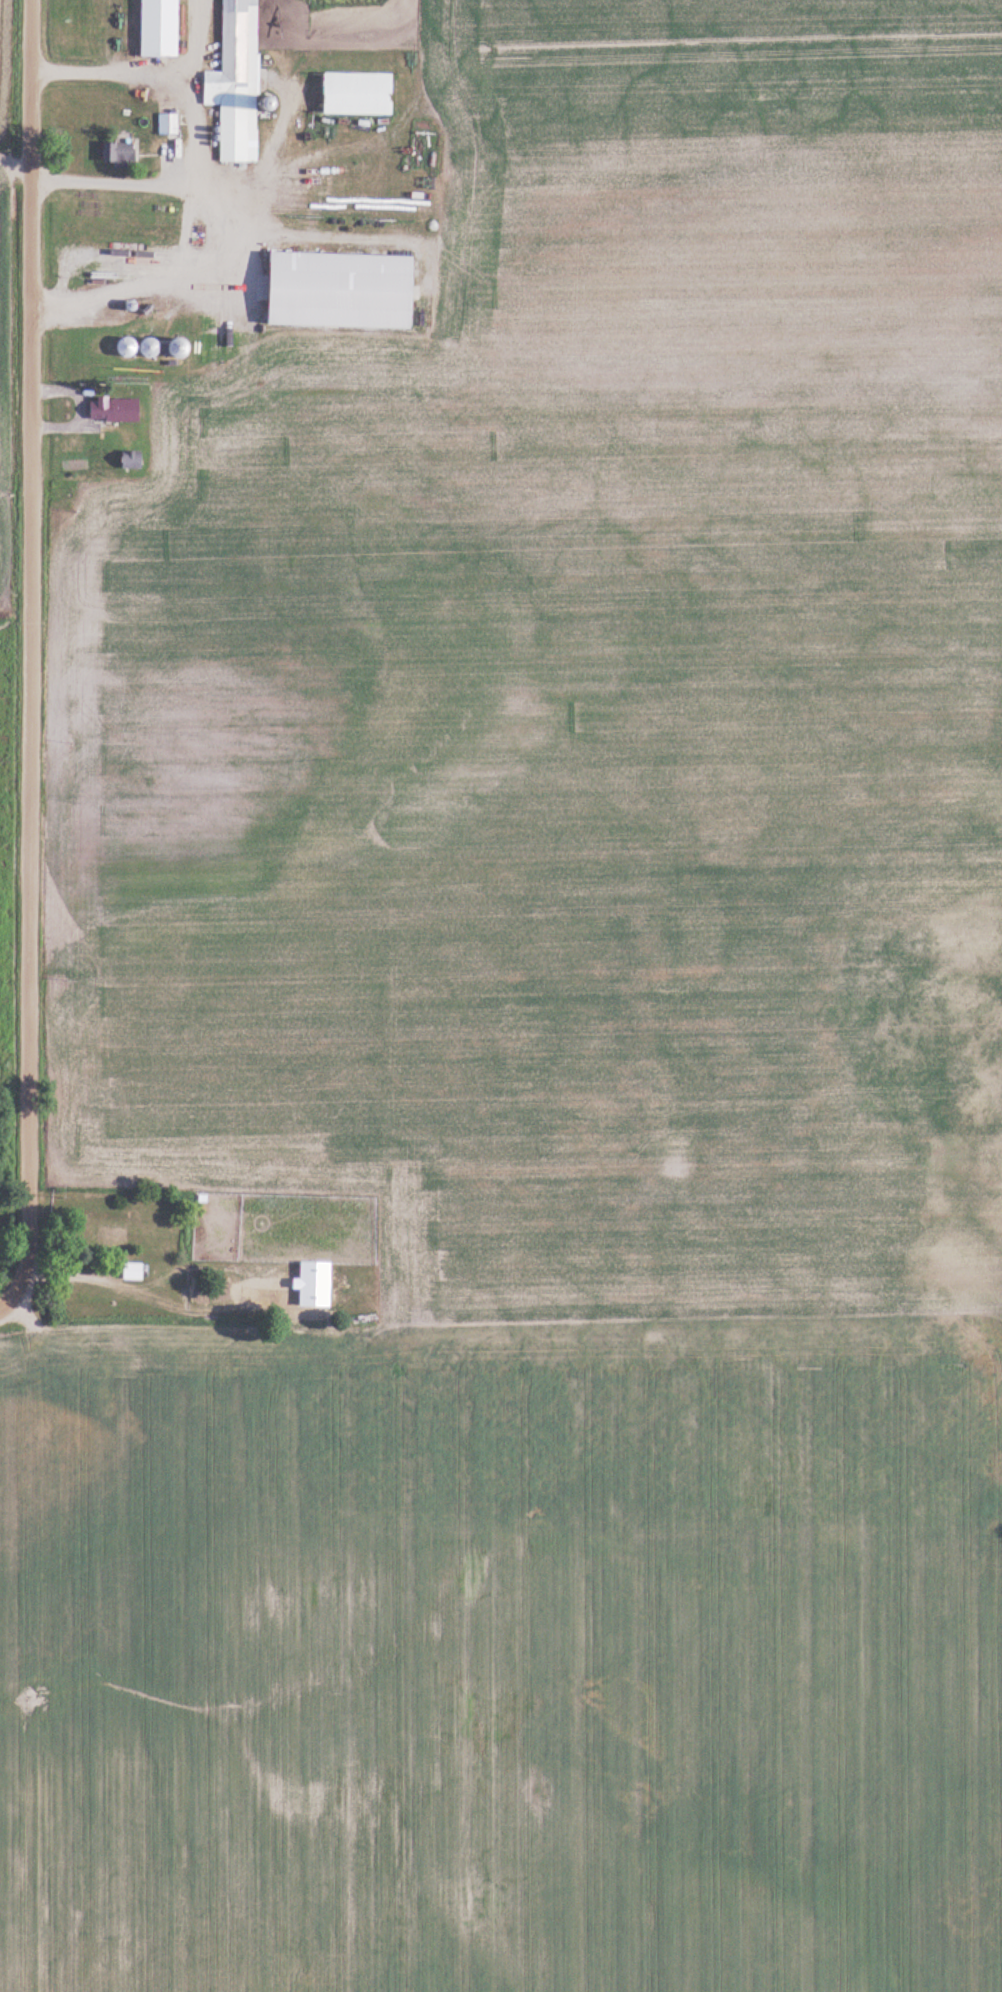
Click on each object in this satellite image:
building: (159, 28)
building: (237, 82)
building: (347, 92)
building: (170, 123)
building: (117, 152)
building: (337, 290)
building: (112, 407)
road: (33, 663)
building: (133, 1270)
building: (226, 1292)
road: (13, 1326)

